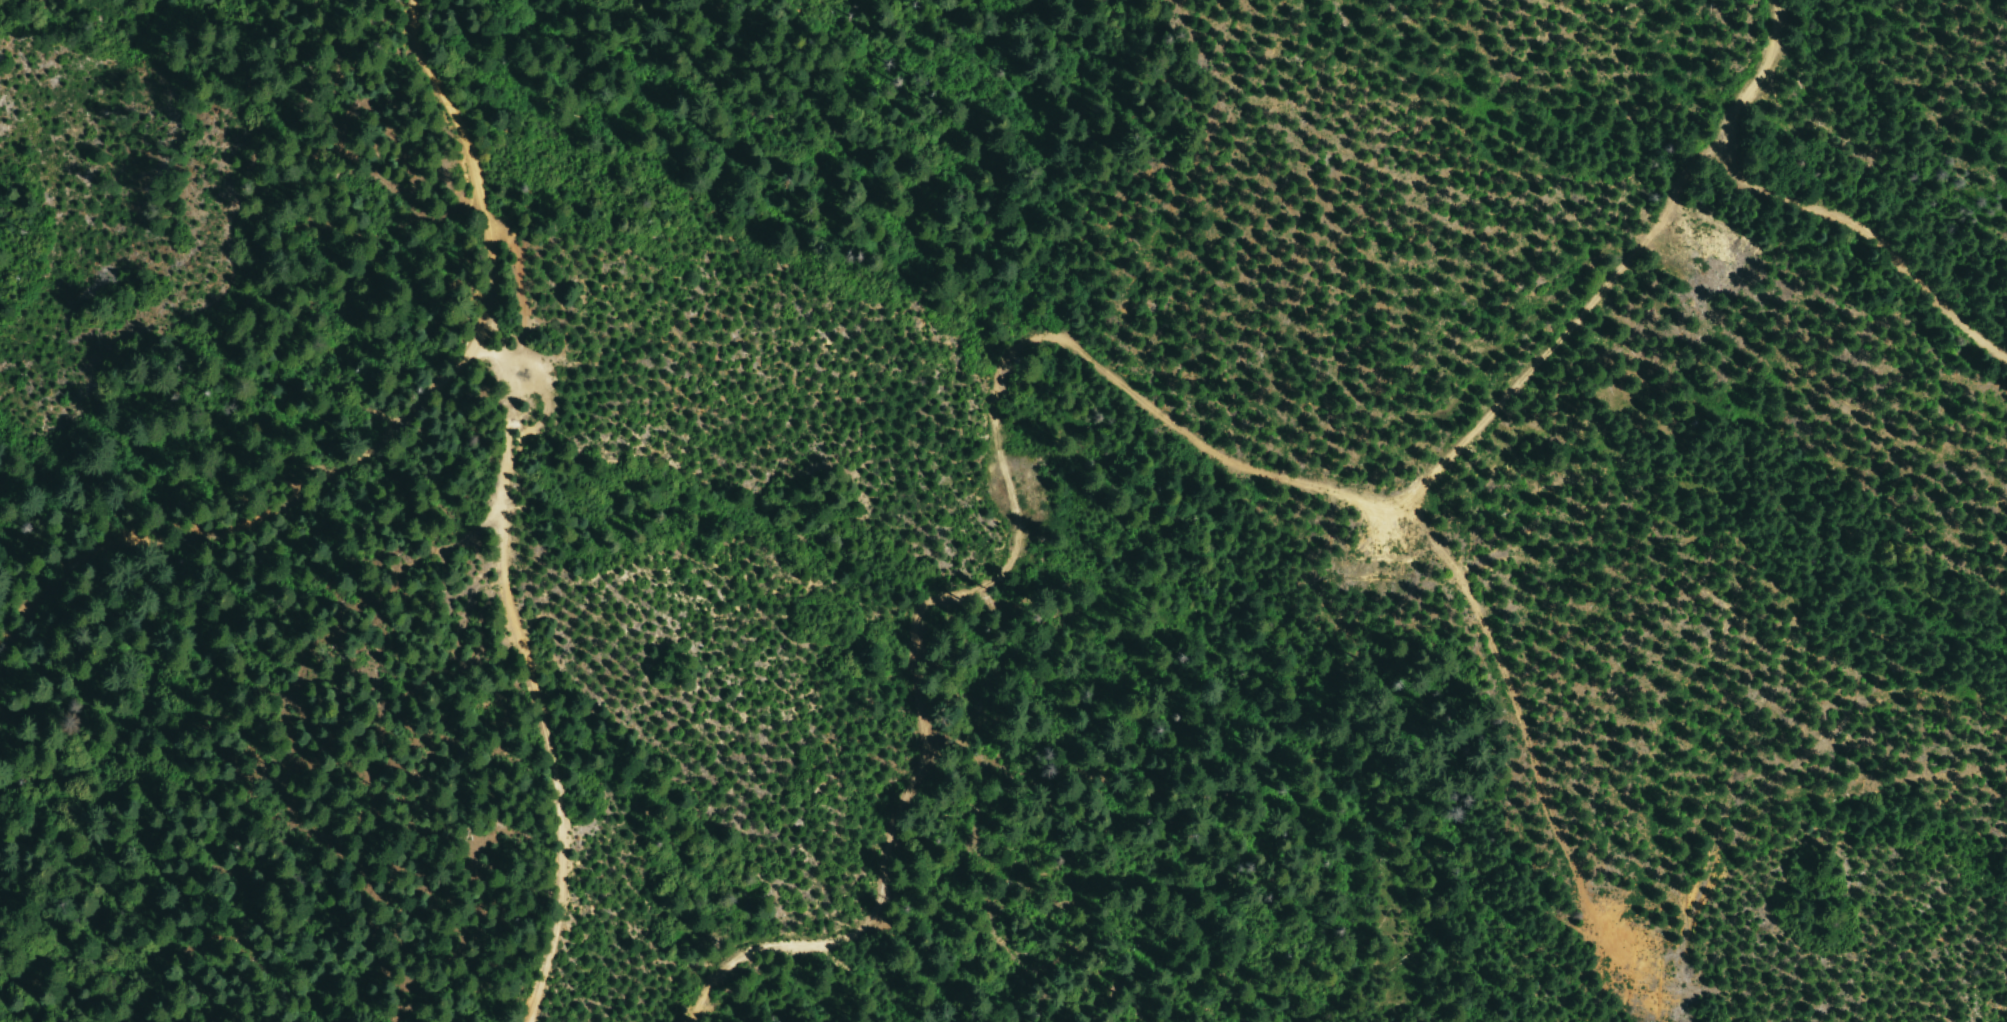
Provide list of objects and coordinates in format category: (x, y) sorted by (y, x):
road: (1799, 202)
road: (1563, 328)
road: (398, 427)
road: (1010, 560)
road: (516, 621)
road: (1519, 731)

